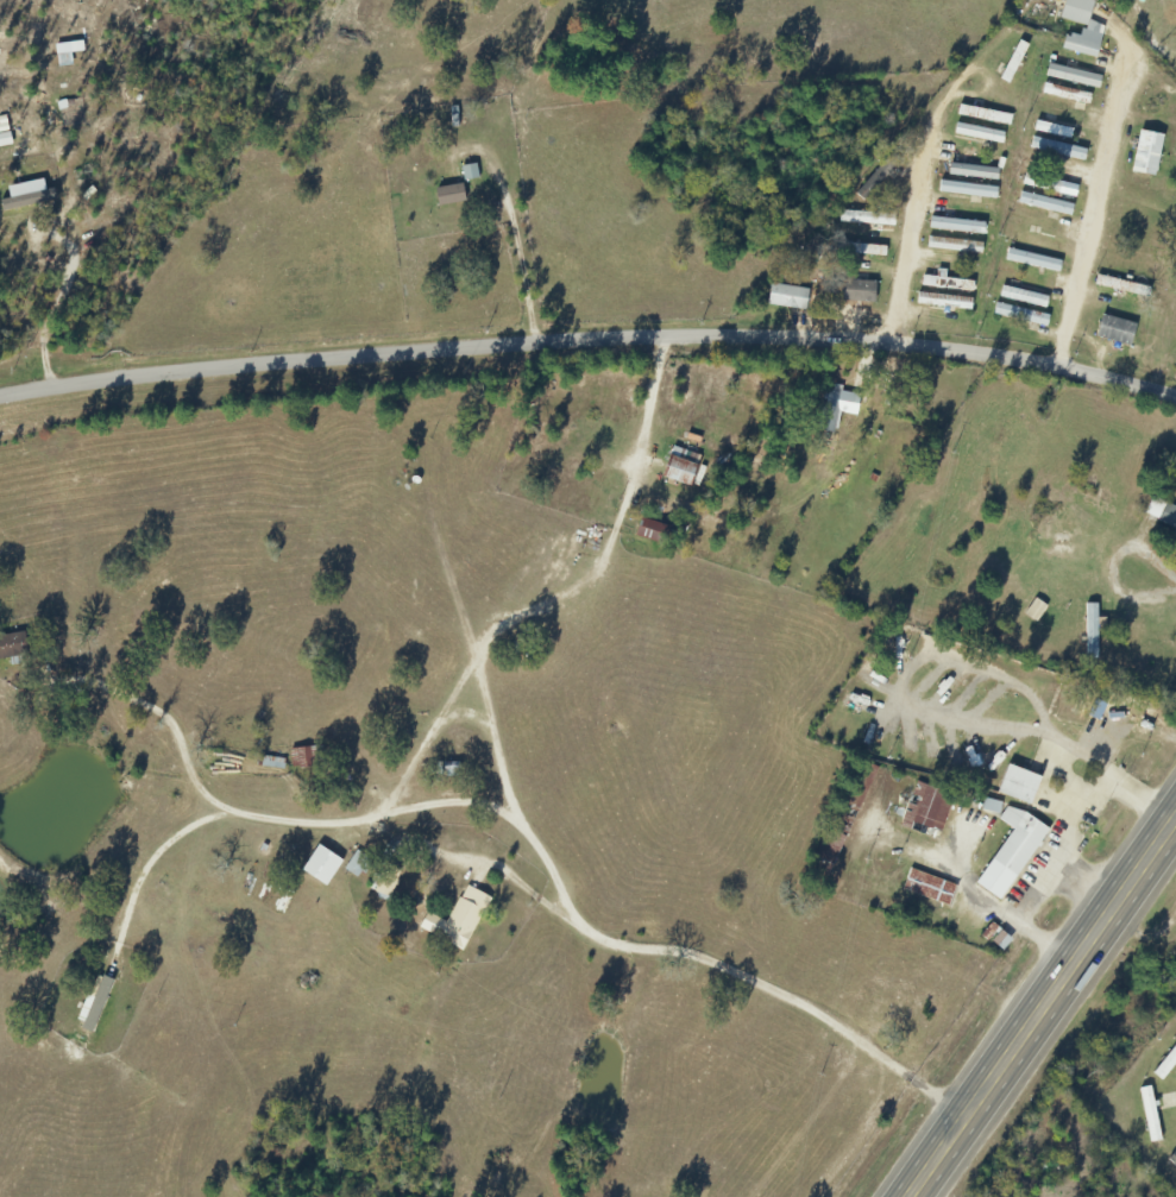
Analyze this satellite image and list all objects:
building: (1090, 30)
building: (1013, 63)
building: (1073, 77)
building: (1065, 95)
building: (983, 115)
building: (1051, 130)
building: (977, 134)
building: (1056, 150)
building: (1145, 155)
building: (971, 172)
building: (876, 178)
building: (1048, 185)
building: (966, 190)
road: (918, 194)
building: (448, 196)
building: (1044, 204)
road: (1094, 209)
building: (864, 219)
building: (955, 226)
building: (1034, 242)
building: (954, 246)
building: (861, 251)
building: (1032, 262)
building: (945, 283)
building: (1120, 286)
building: (849, 291)
building: (1023, 297)
building: (786, 298)
building: (944, 303)
building: (1020, 316)
building: (1114, 332)
road: (586, 335)
building: (830, 411)
building: (675, 471)
road: (54, 493)
building: (1161, 515)
building: (1033, 611)
building: (1090, 640)
building: (12, 647)
building: (1018, 786)
building: (989, 808)
building: (925, 812)
road: (503, 818)
building: (841, 821)
building: (1017, 842)
road: (479, 865)
building: (927, 889)
building: (455, 921)
building: (1172, 977)
road: (1040, 1004)
building: (1019, 1180)

